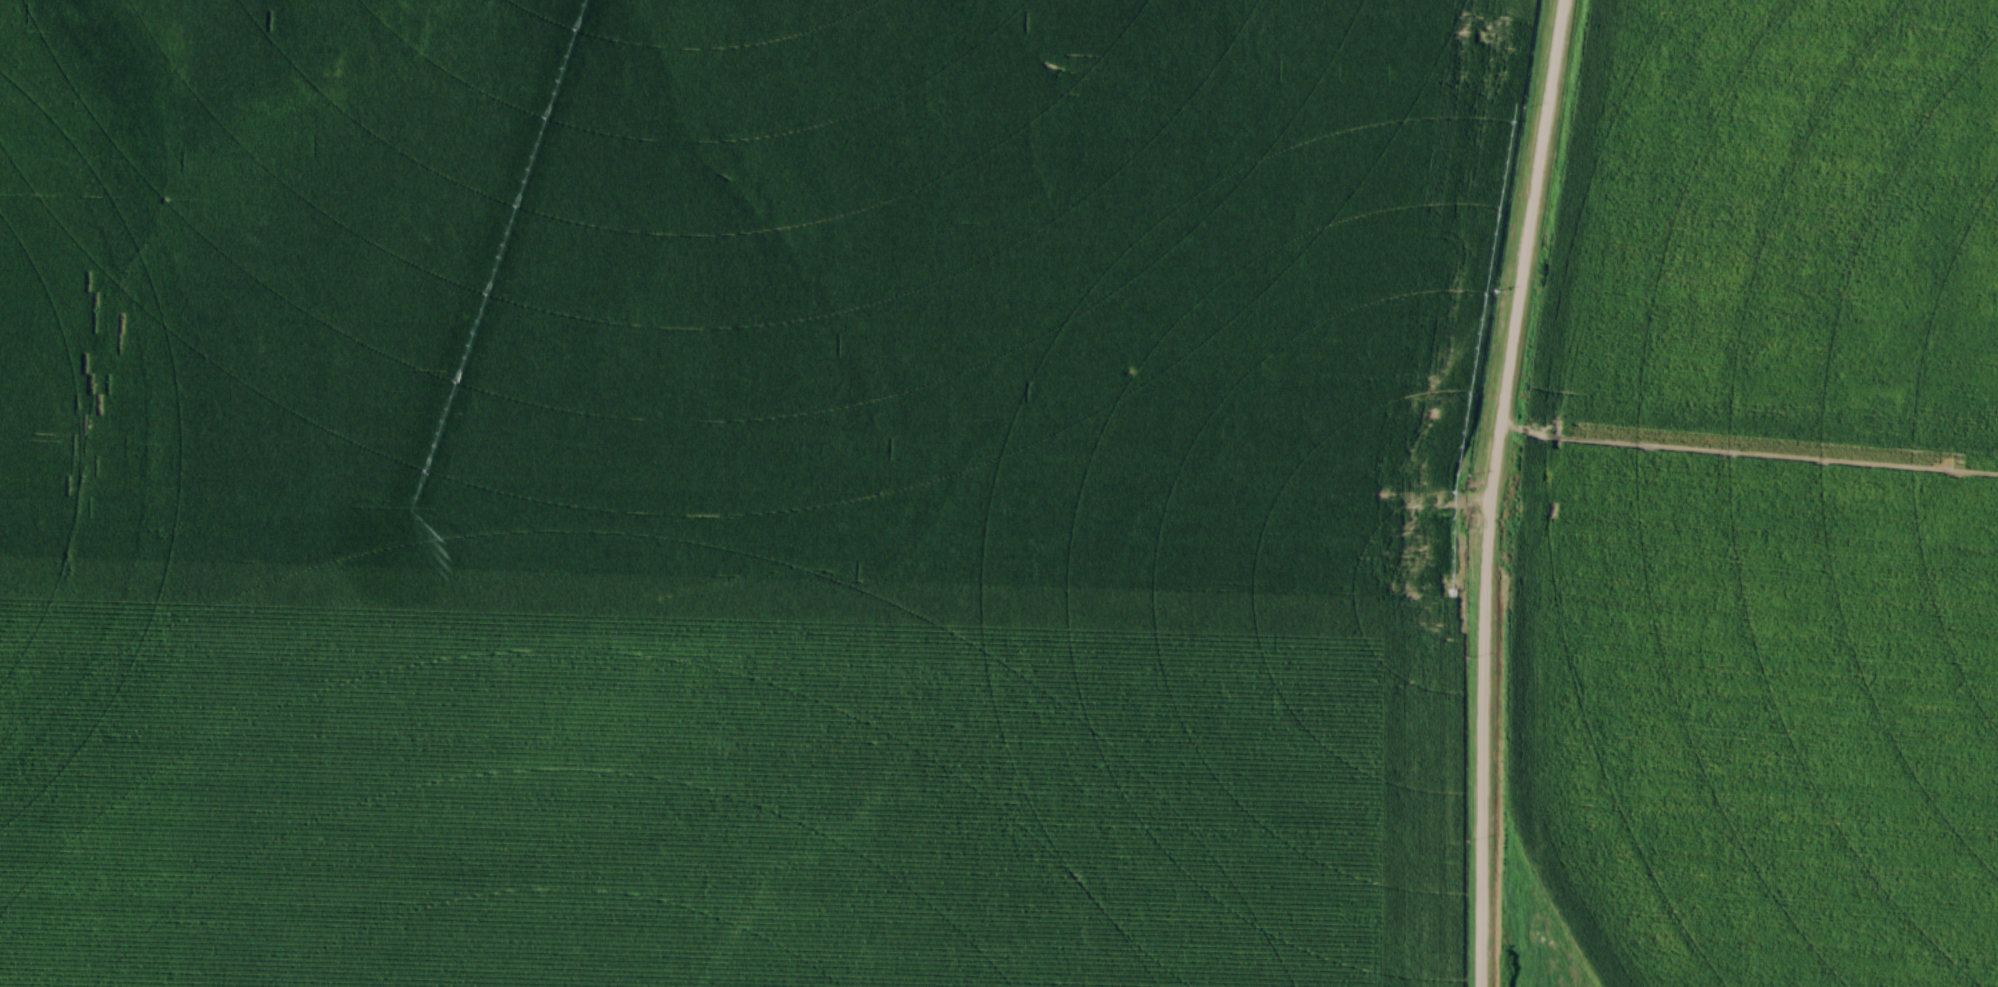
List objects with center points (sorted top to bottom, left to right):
road: (1491, 490)

